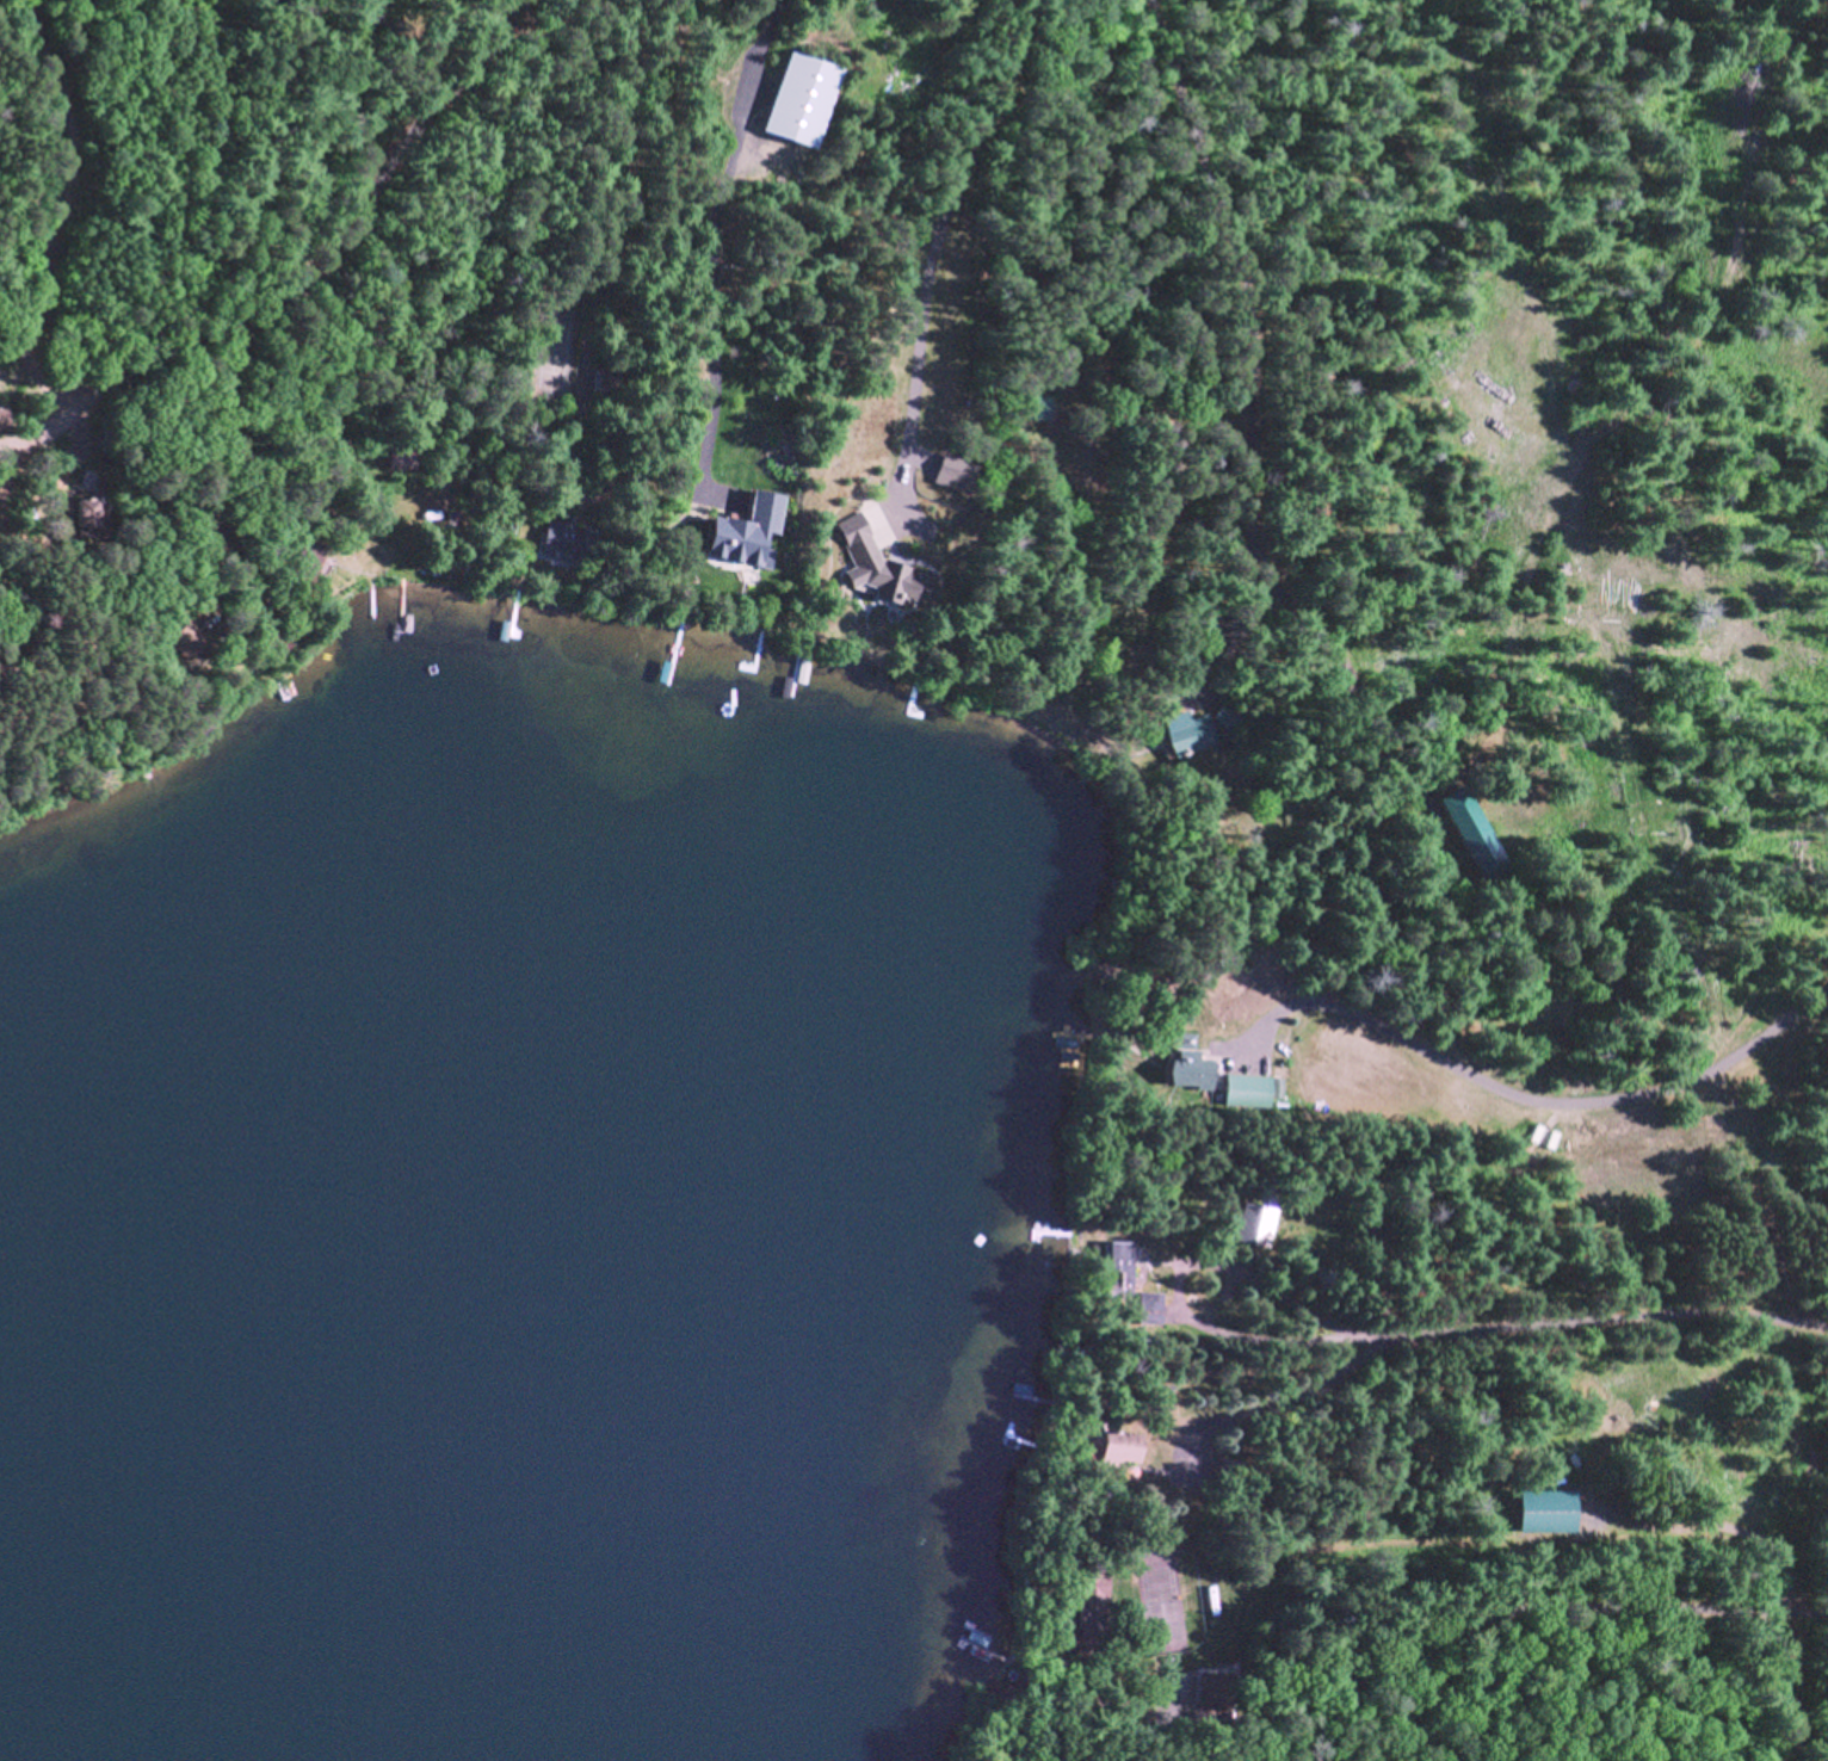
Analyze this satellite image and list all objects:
building: (801, 95)
road: (51, 104)
road: (345, 154)
road: (720, 231)
road: (943, 241)
road: (216, 329)
building: (600, 373)
road: (1642, 391)
building: (1033, 403)
building: (5, 412)
building: (397, 452)
building: (953, 470)
building: (317, 505)
building: (764, 512)
building: (91, 513)
building: (1193, 519)
building: (562, 536)
building: (876, 561)
building: (302, 562)
building: (496, 567)
building: (251, 634)
building: (277, 636)
building: (189, 637)
building: (1227, 713)
building: (1187, 730)
building: (1225, 740)
building: (1474, 830)
building: (1185, 1068)
building: (1274, 1085)
building: (1242, 1088)
road: (1552, 1099)
building: (1252, 1222)
building: (1113, 1268)
road: (1303, 1302)
building: (1145, 1306)
road: (1484, 1331)
building: (1112, 1447)
building: (1227, 1465)
building: (1549, 1508)
building: (1088, 1601)
building: (1011, 1648)
building: (1215, 1686)
building: (998, 1689)

